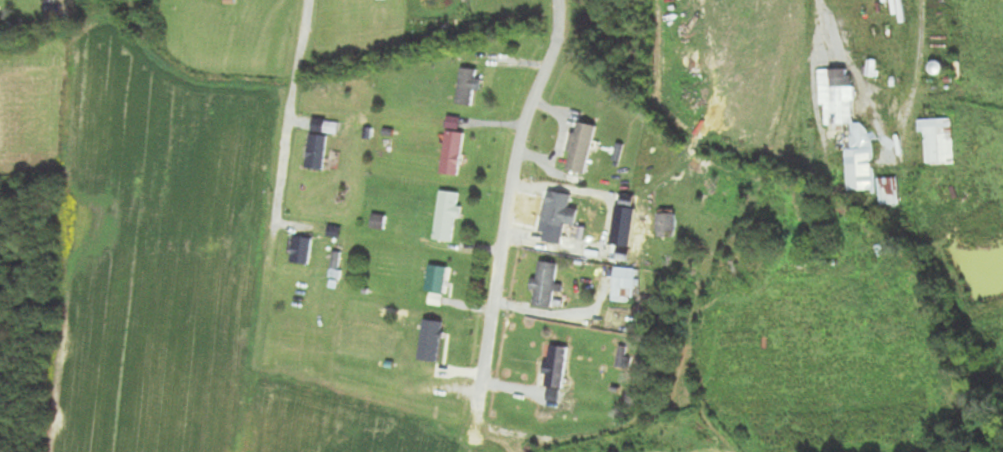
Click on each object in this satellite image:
road: (289, 108)
building: (847, 126)
road: (883, 128)
building: (940, 140)
building: (319, 144)
building: (581, 148)
building: (453, 153)
building: (888, 189)
road: (513, 197)
building: (557, 209)
building: (447, 216)
building: (667, 225)
building: (303, 251)
building: (437, 280)
building: (626, 283)
building: (546, 285)
road: (552, 313)
building: (557, 367)

